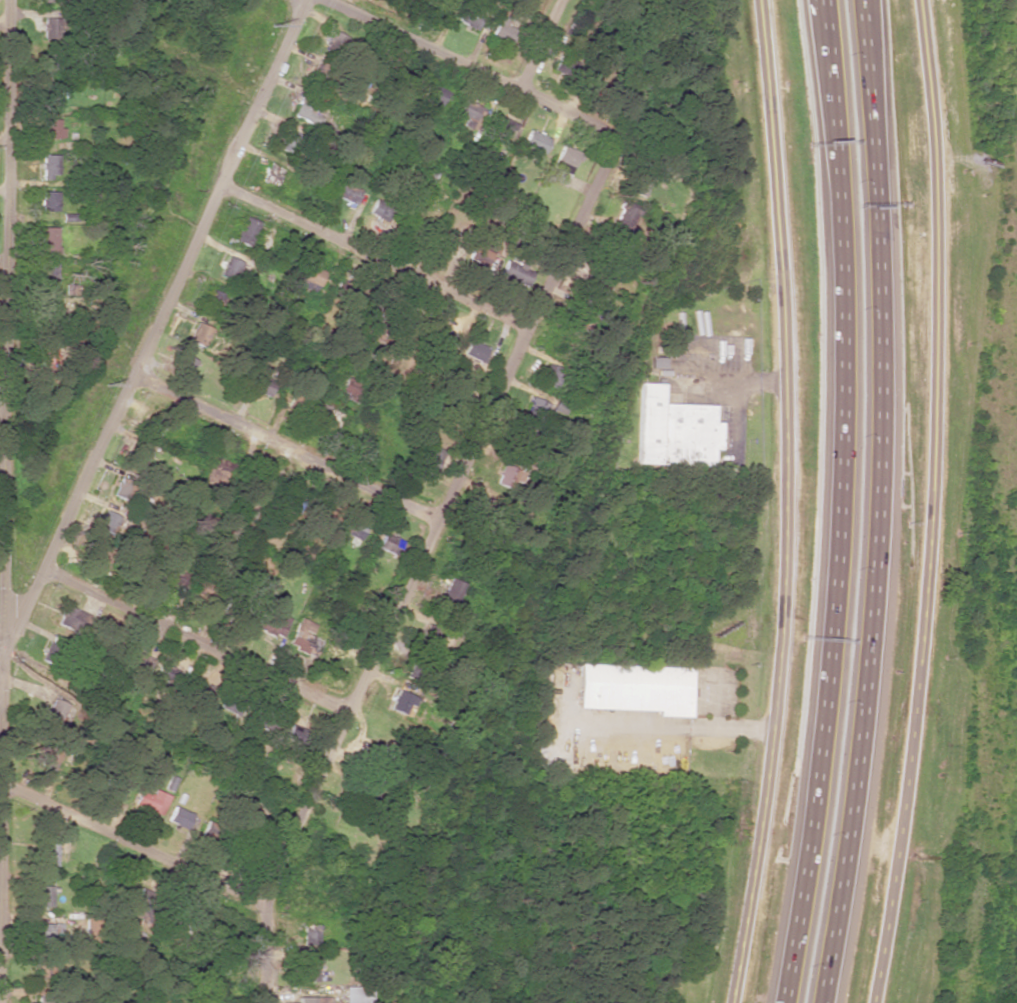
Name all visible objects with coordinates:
building: (50, 1)
building: (432, 3)
building: (469, 18)
building: (51, 29)
building: (339, 43)
road: (539, 44)
building: (50, 65)
road: (469, 66)
building: (49, 93)
building: (427, 100)
building: (307, 111)
building: (481, 124)
building: (51, 129)
building: (534, 141)
building: (289, 142)
building: (49, 165)
building: (562, 165)
building: (638, 185)
building: (348, 193)
building: (48, 201)
building: (379, 212)
building: (624, 218)
building: (246, 231)
building: (48, 240)
building: (445, 241)
road: (373, 256)
building: (234, 271)
building: (515, 273)
building: (48, 274)
building: (310, 278)
building: (215, 303)
building: (578, 318)
road: (156, 326)
building: (197, 334)
building: (441, 336)
building: (474, 351)
building: (657, 363)
building: (184, 365)
building: (550, 376)
building: (261, 385)
building: (352, 387)
power tower: (104, 388)
building: (534, 409)
building: (326, 415)
building: (147, 425)
building: (673, 430)
road: (283, 449)
building: (143, 455)
building: (429, 457)
road: (3, 473)
building: (217, 475)
building: (513, 475)
building: (125, 485)
road: (783, 502)
road: (927, 502)
road: (844, 503)
road: (880, 503)
building: (106, 521)
building: (352, 528)
building: (389, 544)
building: (100, 552)
road: (415, 562)
building: (450, 593)
building: (70, 619)
building: (277, 625)
building: (302, 637)
building: (431, 637)
building: (56, 639)
road: (197, 640)
road: (1, 651)
building: (137, 662)
building: (633, 688)
building: (54, 710)
building: (295, 735)
building: (46, 757)
building: (151, 801)
building: (178, 817)
road: (133, 848)
building: (47, 854)
building: (43, 896)
building: (47, 934)
building: (309, 934)
building: (43, 971)
building: (308, 971)
building: (355, 994)

